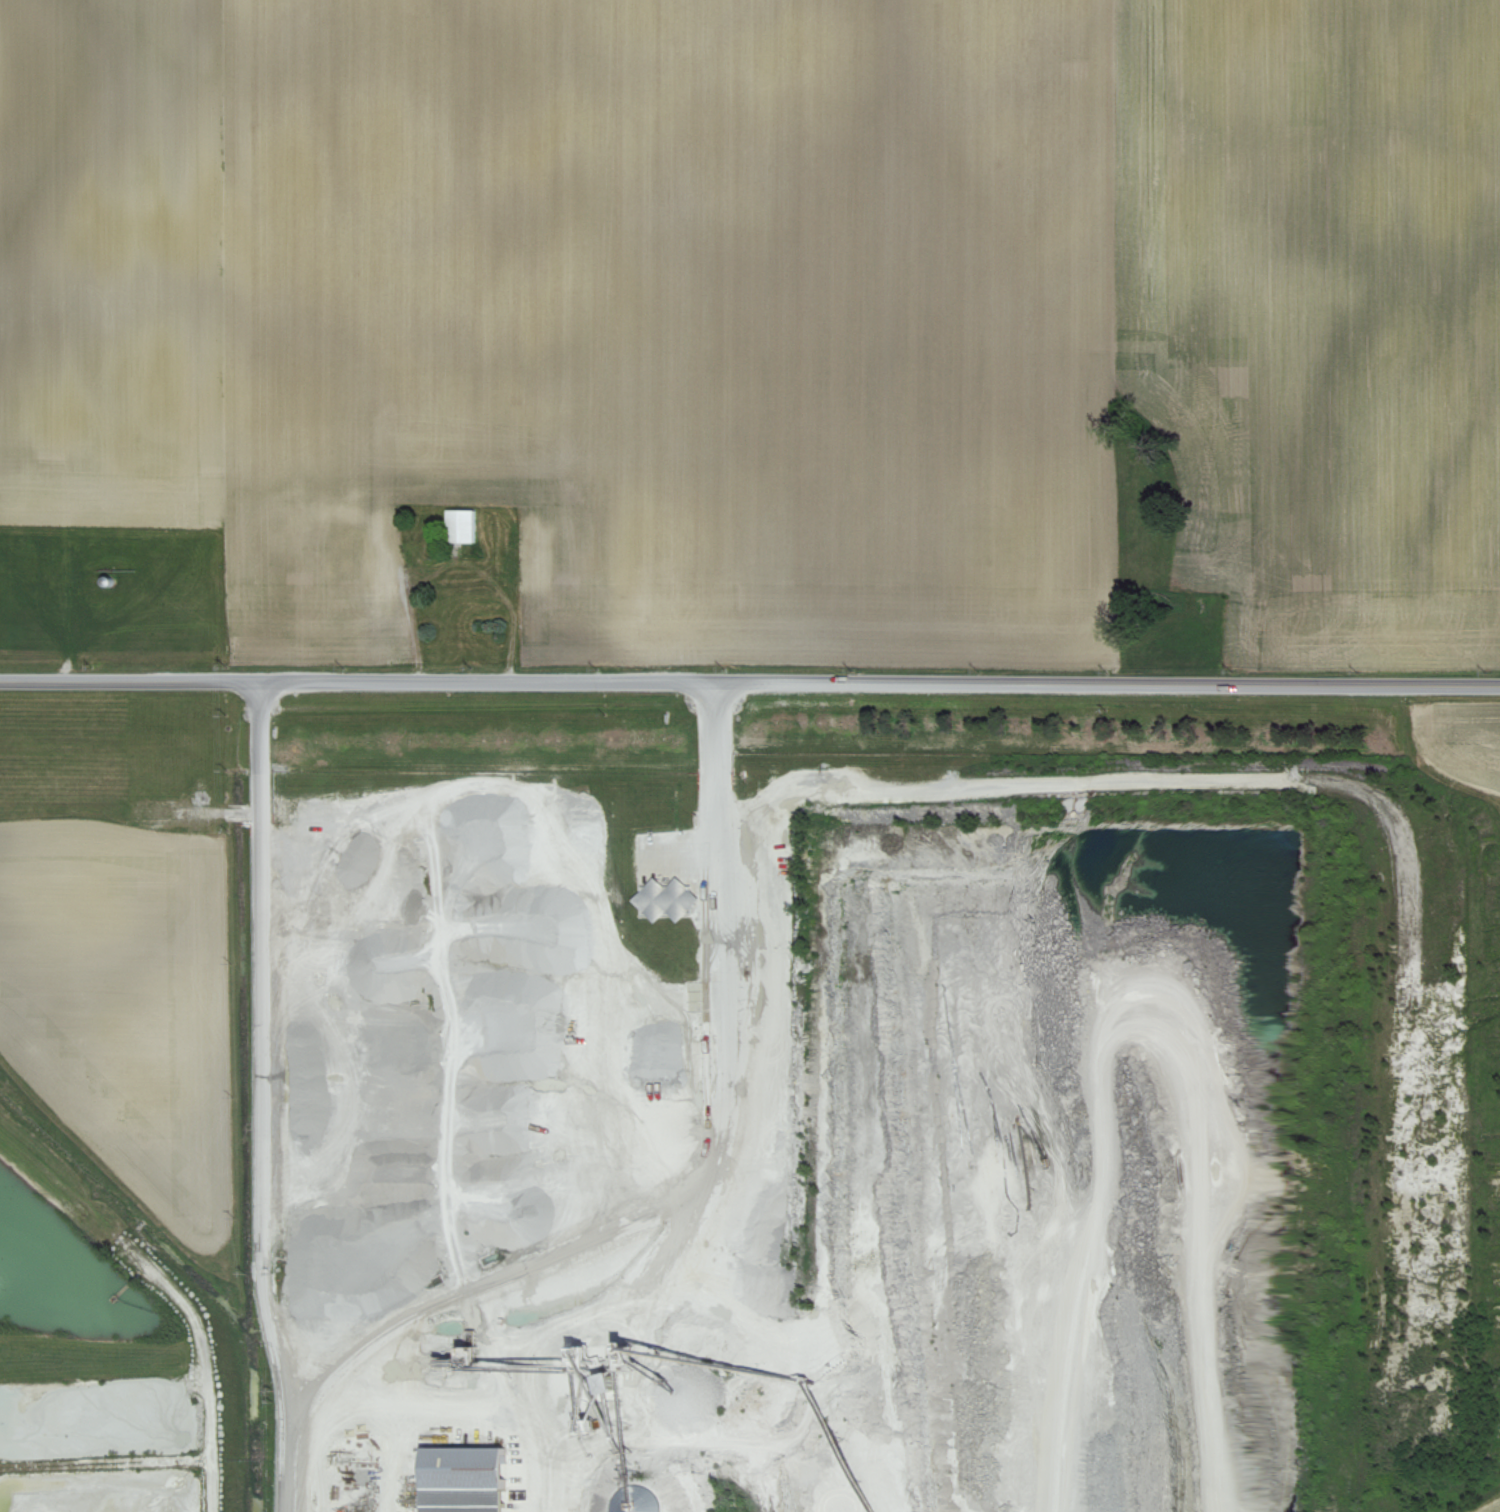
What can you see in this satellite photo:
building: (459, 526)
building: (528, 572)
road: (750, 682)
building: (680, 904)
quarry: (868, 1107)
quarry: (124, 1113)
road: (715, 1139)
building: (459, 1479)

